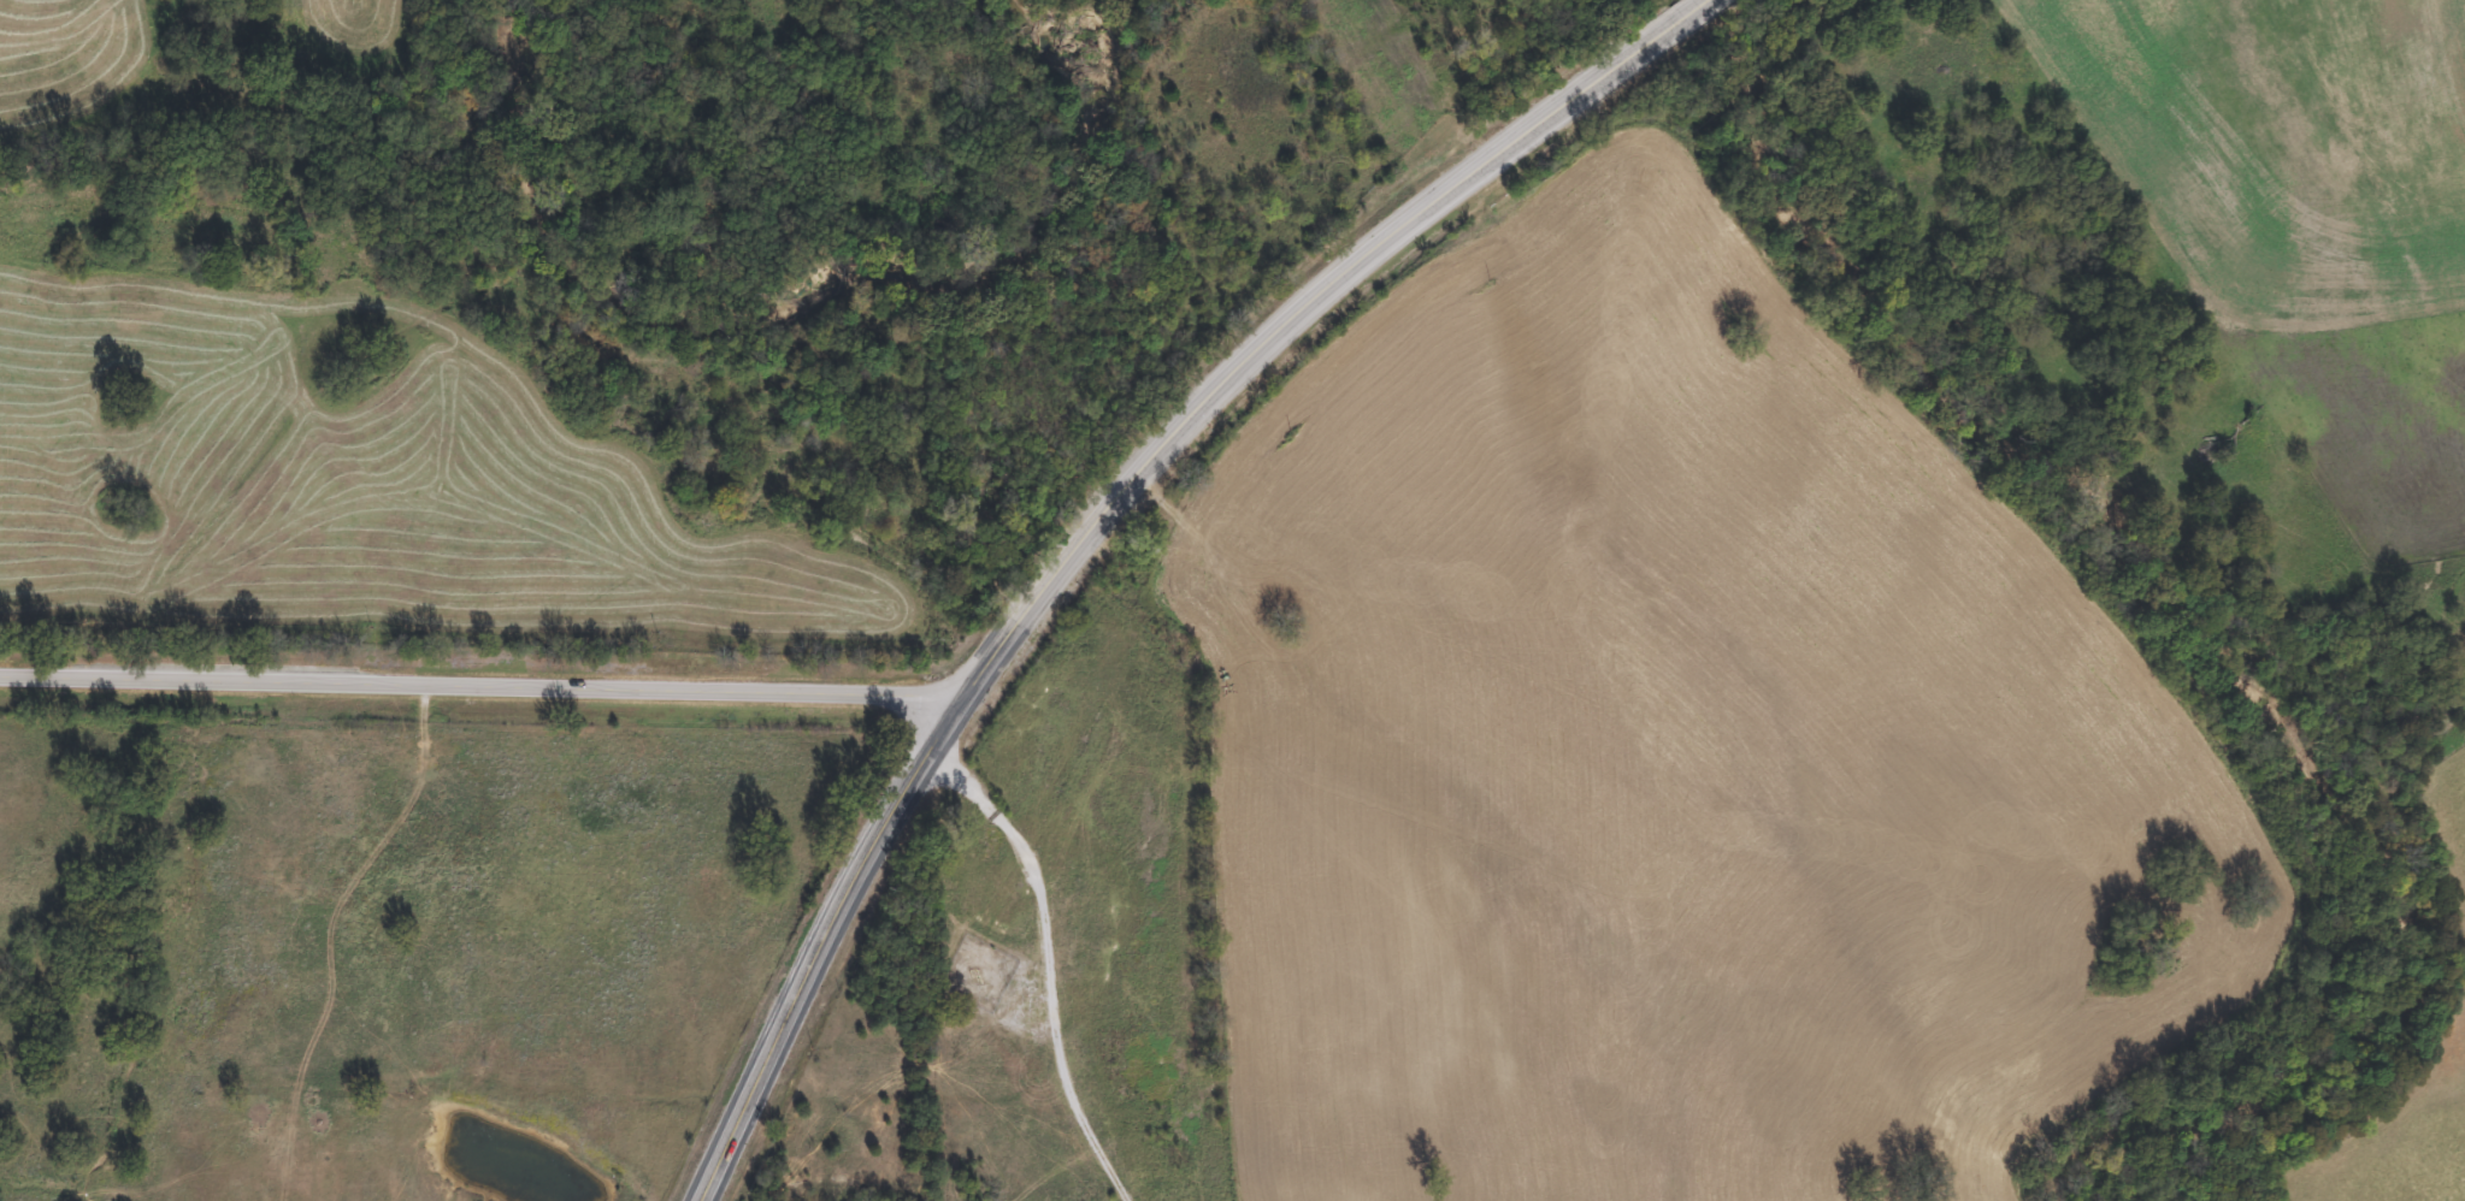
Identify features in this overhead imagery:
road: (1301, 314)
road: (482, 687)
road: (818, 942)
road: (1048, 962)

